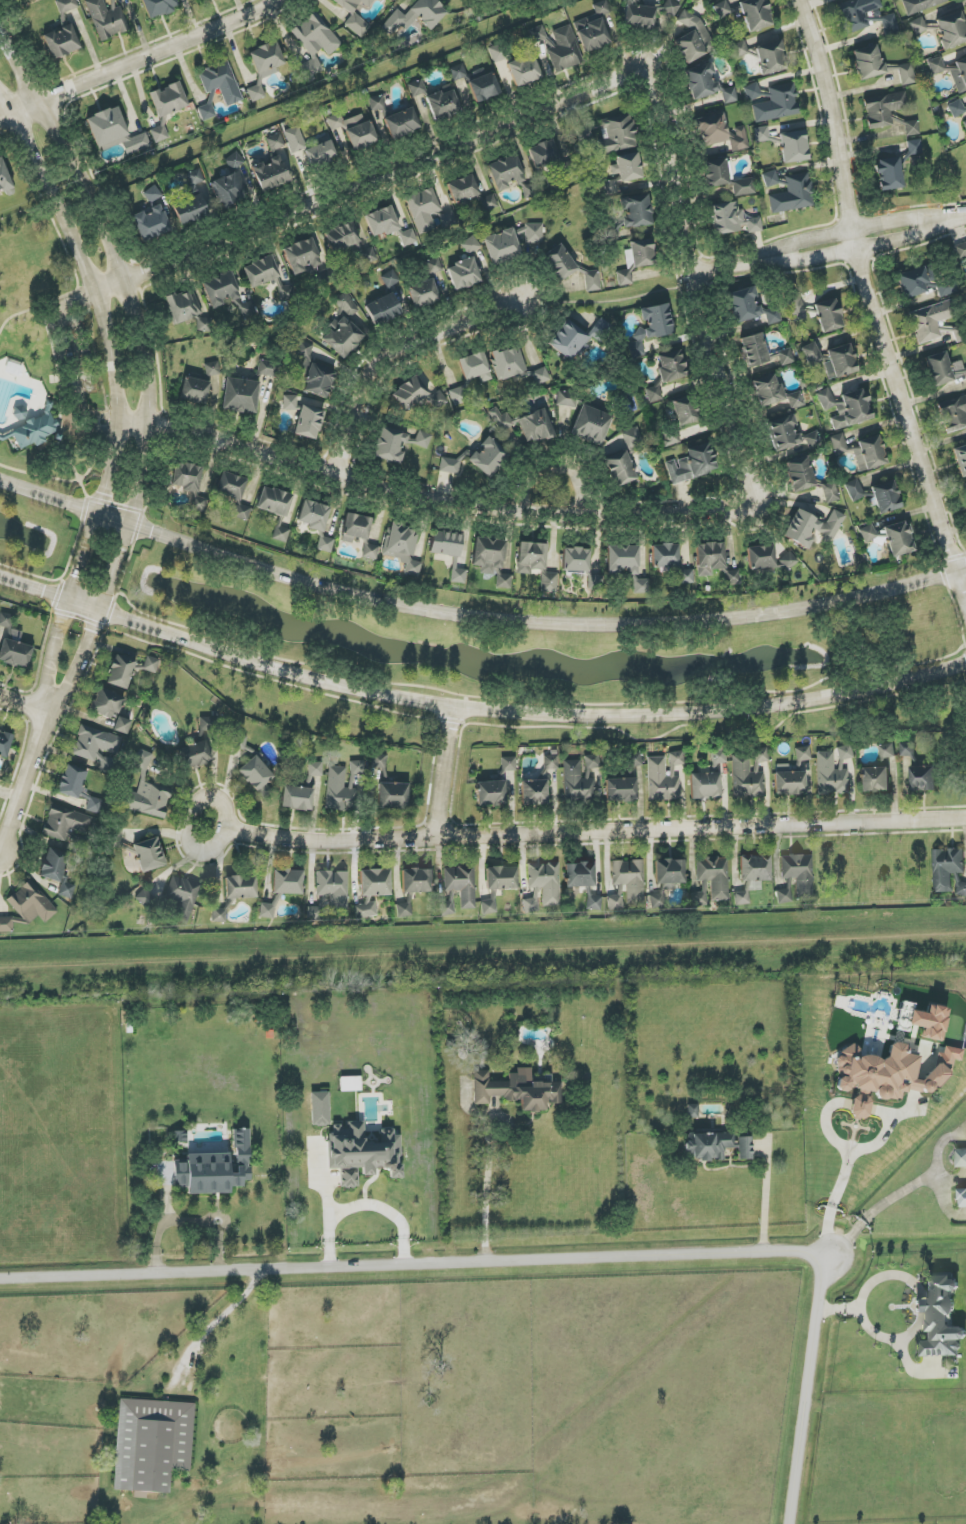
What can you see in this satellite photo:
building: (920, 5)
building: (159, 7)
building: (724, 8)
building: (755, 14)
building: (856, 14)
building: (417, 15)
building: (355, 16)
building: (639, 17)
building: (107, 18)
building: (890, 24)
building: (919, 26)
building: (593, 28)
building: (952, 30)
building: (62, 32)
building: (692, 39)
building: (314, 44)
building: (564, 49)
building: (738, 49)
building: (771, 58)
road: (140, 60)
building: (868, 62)
building: (264, 66)
building: (936, 66)
building: (525, 71)
building: (458, 72)
building: (906, 74)
building: (958, 74)
building: (700, 81)
building: (221, 82)
building: (484, 87)
building: (417, 88)
building: (753, 91)
building: (730, 95)
building: (168, 99)
building: (376, 103)
building: (443, 104)
building: (777, 104)
building: (956, 108)
building: (883, 110)
building: (207, 112)
building: (402, 123)
building: (965, 123)
building: (911, 128)
building: (354, 130)
building: (712, 130)
building: (114, 132)
building: (159, 134)
building: (762, 134)
building: (617, 135)
building: (295, 139)
building: (738, 139)
building: (275, 142)
building: (794, 147)
building: (915, 147)
building: (321, 153)
building: (544, 154)
building: (234, 161)
building: (505, 172)
building: (622, 172)
building: (888, 173)
building: (270, 174)
building: (726, 178)
building: (770, 178)
building: (5, 180)
building: (230, 189)
building: (463, 189)
building: (152, 194)
building: (794, 194)
building: (190, 201)
building: (488, 202)
building: (423, 209)
building: (635, 211)
road: (961, 217)
building: (726, 218)
building: (382, 222)
building: (151, 223)
building: (754, 225)
building: (534, 233)
road: (822, 236)
building: (342, 237)
building: (408, 237)
building: (471, 245)
building: (502, 246)
building: (960, 251)
building: (302, 256)
building: (368, 256)
road: (826, 256)
building: (635, 260)
building: (560, 262)
building: (434, 265)
building: (261, 271)
building: (464, 274)
building: (390, 279)
building: (592, 281)
building: (287, 293)
building: (227, 294)
building: (423, 294)
road: (872, 299)
road: (41, 304)
building: (347, 305)
road: (135, 306)
building: (183, 306)
building: (752, 307)
building: (796, 307)
building: (383, 309)
building: (829, 316)
building: (931, 320)
road: (702, 322)
building: (205, 323)
building: (651, 327)
building: (341, 337)
building: (575, 338)
road: (108, 343)
building: (754, 350)
building: (811, 354)
building: (786, 357)
road: (398, 358)
road: (77, 360)
building: (840, 362)
building: (509, 363)
building: (671, 366)
building: (475, 367)
building: (268, 368)
building: (958, 368)
building: (212, 369)
building: (938, 369)
building: (314, 373)
building: (540, 377)
road: (60, 381)
building: (194, 390)
building: (768, 391)
building: (409, 393)
building: (654, 394)
building: (461, 395)
building: (240, 396)
building: (567, 398)
building: (796, 400)
building: (290, 402)
building: (846, 408)
building: (686, 411)
building: (953, 415)
building: (309, 422)
building: (523, 425)
building: (591, 425)
road: (107, 427)
building: (35, 430)
building: (789, 435)
building: (633, 439)
building: (671, 439)
building: (838, 443)
building: (397, 444)
building: (870, 454)
building: (961, 459)
building: (692, 464)
building: (620, 468)
road: (75, 469)
road: (558, 469)
building: (800, 474)
building: (187, 477)
building: (231, 486)
building: (855, 490)
building: (831, 493)
building: (886, 497)
building: (274, 501)
road: (105, 502)
building: (240, 510)
building: (314, 515)
building: (812, 527)
building: (355, 528)
building: (868, 533)
building: (899, 539)
building: (325, 544)
building: (446, 544)
building: (403, 547)
building: (370, 551)
building: (665, 556)
building: (531, 557)
building: (761, 557)
building: (709, 558)
building: (622, 559)
building: (491, 560)
building: (576, 560)
building: (788, 560)
building: (459, 576)
building: (686, 576)
building: (731, 577)
building: (549, 582)
building: (595, 582)
building: (641, 586)
road: (475, 618)
building: (13, 645)
road: (54, 654)
road: (79, 663)
building: (151, 664)
building: (120, 672)
road: (24, 703)
building: (106, 704)
road: (476, 709)
building: (207, 724)
building: (122, 725)
building: (5, 744)
building: (97, 747)
building: (908, 750)
building: (887, 751)
building: (803, 754)
building: (195, 755)
building: (718, 757)
building: (634, 760)
building: (591, 761)
building: (380, 762)
building: (508, 764)
building: (549, 765)
building: (357, 767)
building: (315, 769)
building: (833, 771)
road: (445, 773)
building: (748, 774)
building: (257, 776)
building: (664, 777)
building: (924, 778)
building: (875, 779)
road: (25, 781)
building: (72, 781)
building: (577, 781)
building: (790, 783)
building: (705, 786)
building: (621, 790)
building: (340, 791)
building: (146, 792)
building: (534, 792)
building: (491, 793)
building: (392, 795)
building: (297, 798)
building: (94, 805)
road: (190, 823)
building: (65, 824)
road: (595, 832)
building: (149, 854)
building: (53, 864)
building: (947, 867)
building: (755, 868)
building: (670, 873)
building: (799, 873)
building: (580, 875)
building: (714, 876)
building: (501, 878)
building: (630, 879)
building: (416, 880)
building: (545, 881)
building: (287, 882)
building: (375, 882)
building: (240, 887)
building: (458, 888)
building: (66, 889)
building: (961, 889)
building: (330, 895)
building: (700, 896)
building: (784, 896)
building: (183, 897)
building: (741, 898)
building: (145, 899)
building: (657, 901)
building: (594, 903)
building: (615, 903)
building: (32, 904)
building: (489, 905)
building: (531, 905)
building: (266, 910)
building: (365, 910)
building: (404, 910)
building: (219, 915)
building: (6, 924)
building: (929, 1022)
building: (887, 1074)
building: (350, 1084)
building: (517, 1090)
building: (320, 1109)
building: (693, 1111)
road: (878, 1140)
building: (715, 1146)
building: (362, 1153)
building: (961, 1159)
building: (215, 1169)
road: (843, 1173)
road: (486, 1191)
building: (961, 1195)
road: (766, 1197)
road: (365, 1203)
road: (876, 1210)
road: (169, 1223)
road: (219, 1243)
road: (414, 1258)
road: (218, 1319)
building: (941, 1319)
road: (874, 1333)
road: (810, 1391)
building: (152, 1444)

